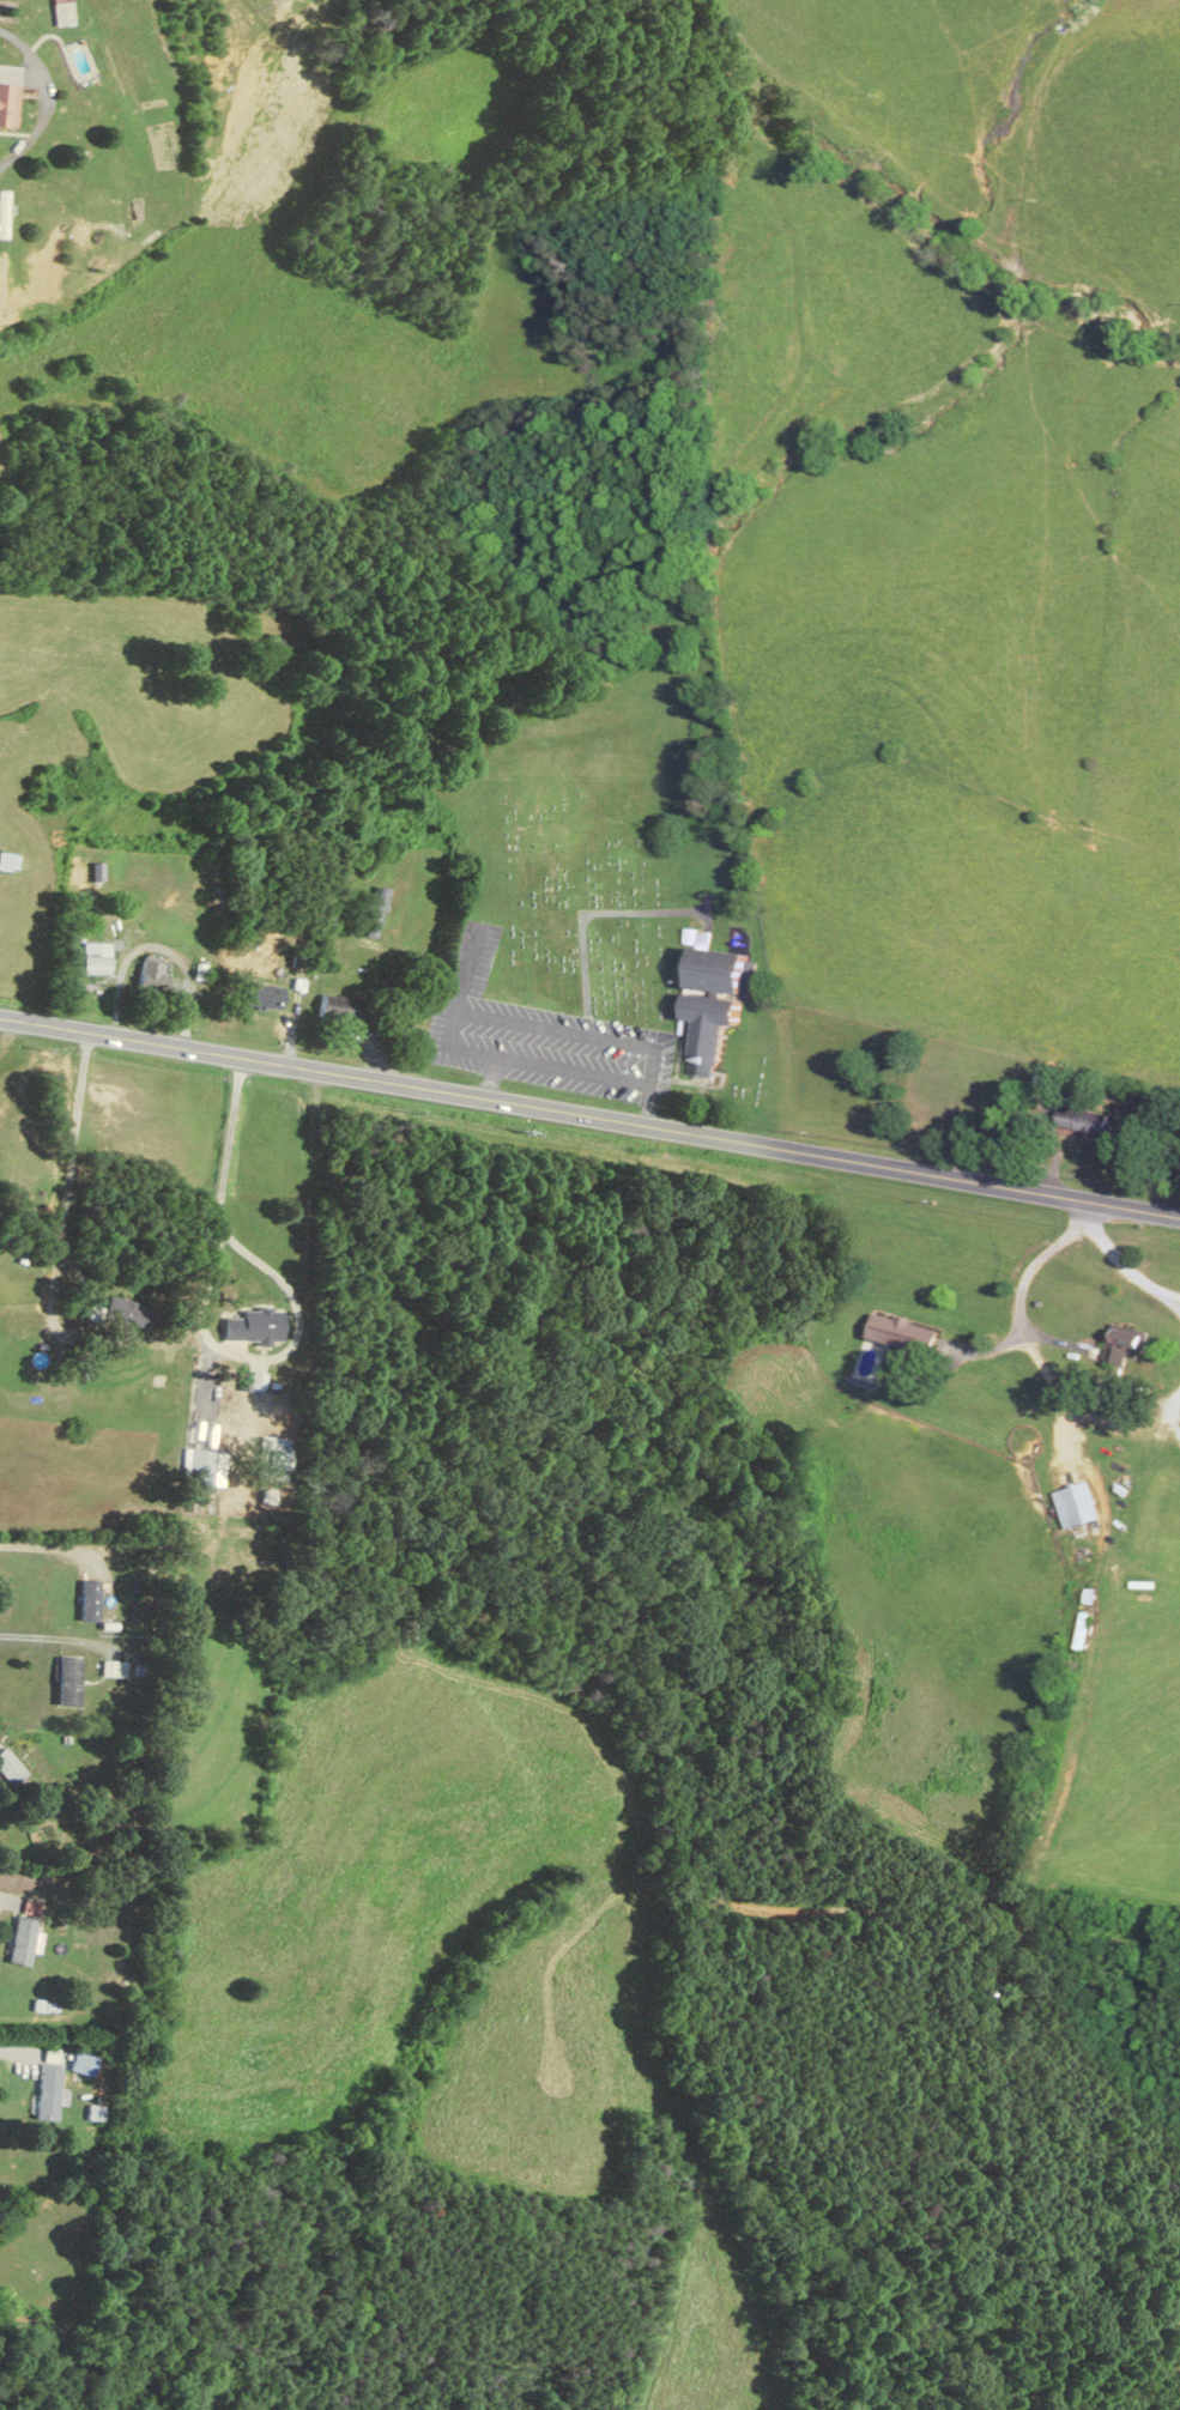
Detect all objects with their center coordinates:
building: (63, 13)
building: (8, 96)
road: (46, 96)
building: (4, 212)
building: (10, 860)
building: (376, 912)
building: (96, 964)
building: (725, 970)
building: (155, 974)
building: (266, 997)
building: (343, 1009)
building: (713, 1030)
road: (589, 1115)
building: (1087, 1121)
building: (128, 1312)
building: (255, 1326)
building: (904, 1333)
building: (1125, 1344)
building: (206, 1467)
building: (1077, 1504)
road: (46, 1544)
building: (90, 1600)
road: (49, 1634)
building: (71, 1682)
building: (11, 1768)
road: (8, 1900)
building: (22, 1940)
road: (14, 2051)
building: (48, 2091)

